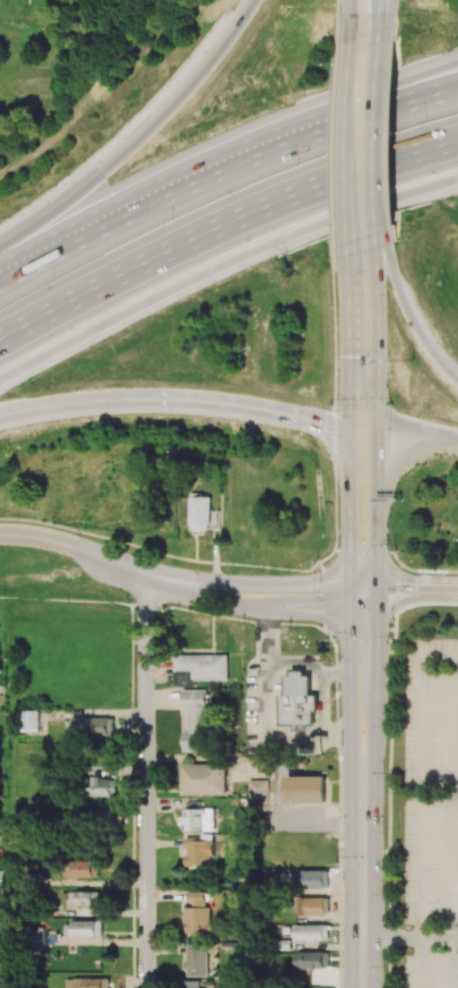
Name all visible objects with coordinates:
street lamp: (210, 21)
road: (379, 21)
road: (384, 21)
road: (350, 25)
street lamp: (333, 63)
road: (350, 97)
road: (331, 110)
street lamp: (129, 114)
street lamp: (425, 121)
road: (331, 122)
road: (138, 134)
road: (378, 138)
street lamp: (334, 151)
street lamp: (297, 163)
road: (449, 179)
road: (349, 192)
street lamp: (36, 194)
street lamp: (450, 199)
street lamp: (173, 218)
road: (222, 218)
road: (104, 225)
street lamp: (328, 233)
street lamp: (332, 240)
road: (214, 265)
street lamp: (52, 280)
road: (349, 299)
road: (408, 312)
street lamp: (155, 317)
traffic signals: (349, 356)
street lamp: (414, 359)
road: (178, 398)
road: (349, 398)
road: (387, 414)
street lamp: (107, 421)
street lamp: (218, 425)
traffic signals: (326, 426)
traffic signals: (378, 435)
road: (402, 459)
road: (378, 487)
building: (200, 513)
road: (350, 522)
street lamp: (78, 534)
road: (73, 545)
street lamp: (397, 549)
street lamp: (316, 558)
street lamp: (175, 565)
road: (421, 567)
street lamp: (422, 573)
traffic signals: (350, 574)
road: (270, 576)
road: (168, 578)
road: (365, 579)
traffic signals: (381, 585)
road: (398, 586)
road: (419, 586)
road: (366, 594)
road: (270, 604)
traffic signals: (352, 604)
street lamp: (391, 619)
street lamp: (243, 624)
street lamp: (327, 639)
building: (200, 668)
road: (353, 672)
road: (323, 676)
road: (338, 676)
building: (299, 701)
building: (30, 720)
building: (196, 720)
road: (266, 720)
building: (97, 726)
building: (203, 779)
road: (145, 780)
building: (95, 786)
parking lot: (433, 787)
building: (306, 789)
building: (258, 791)
road: (392, 798)
road: (419, 800)
building: (193, 817)
building: (199, 853)
road: (361, 863)
building: (82, 868)
building: (2, 878)
building: (317, 879)
building: (84, 897)
building: (320, 906)
building: (198, 913)
building: (84, 928)
road: (439, 929)
building: (312, 932)
building: (39, 936)
building: (196, 960)
building: (313, 960)
parking lot: (433, 973)
building: (88, 983)
building: (191, 984)

